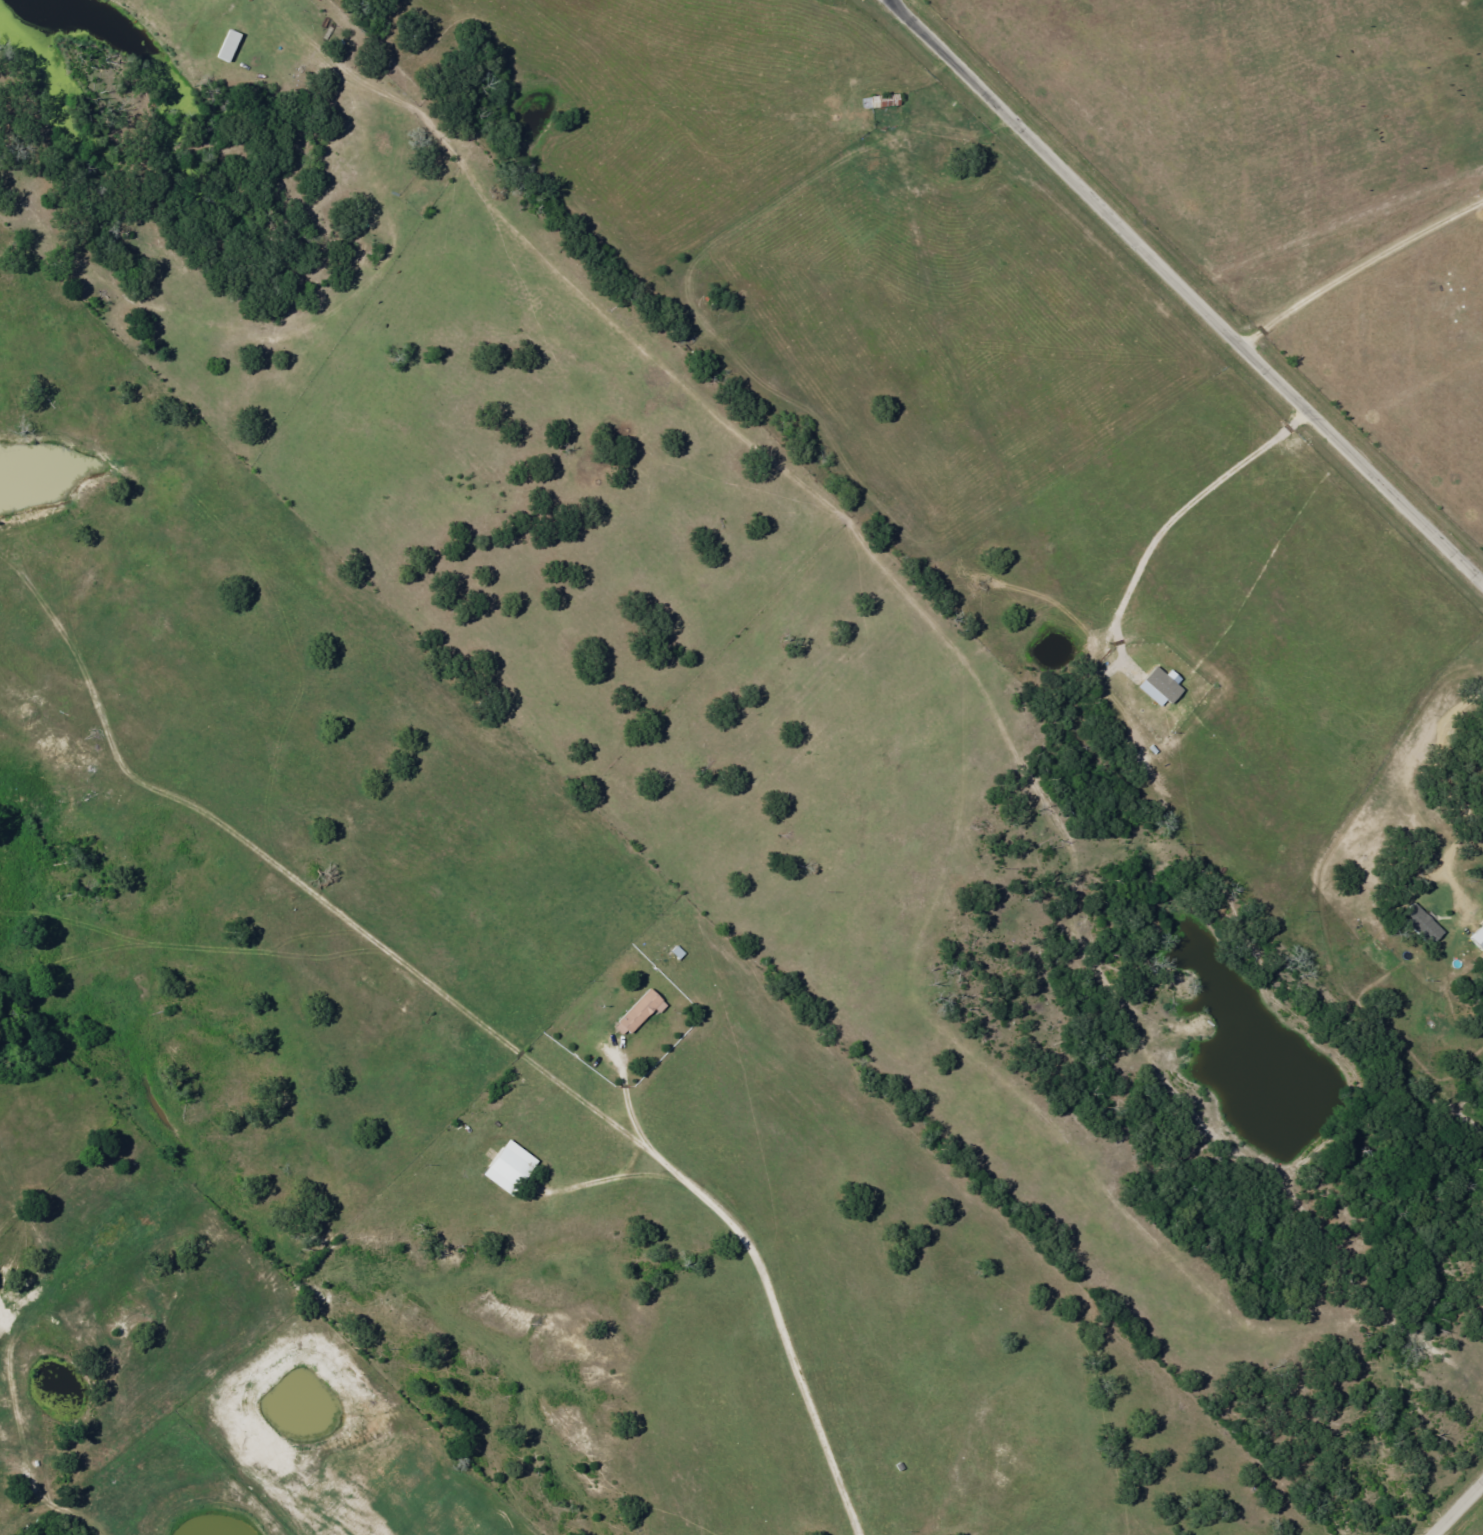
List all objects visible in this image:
road: (1197, 293)
building: (1156, 686)
building: (1419, 924)
building: (1476, 938)
building: (637, 1012)
road: (730, 1164)
building: (504, 1167)
road: (1460, 1510)

